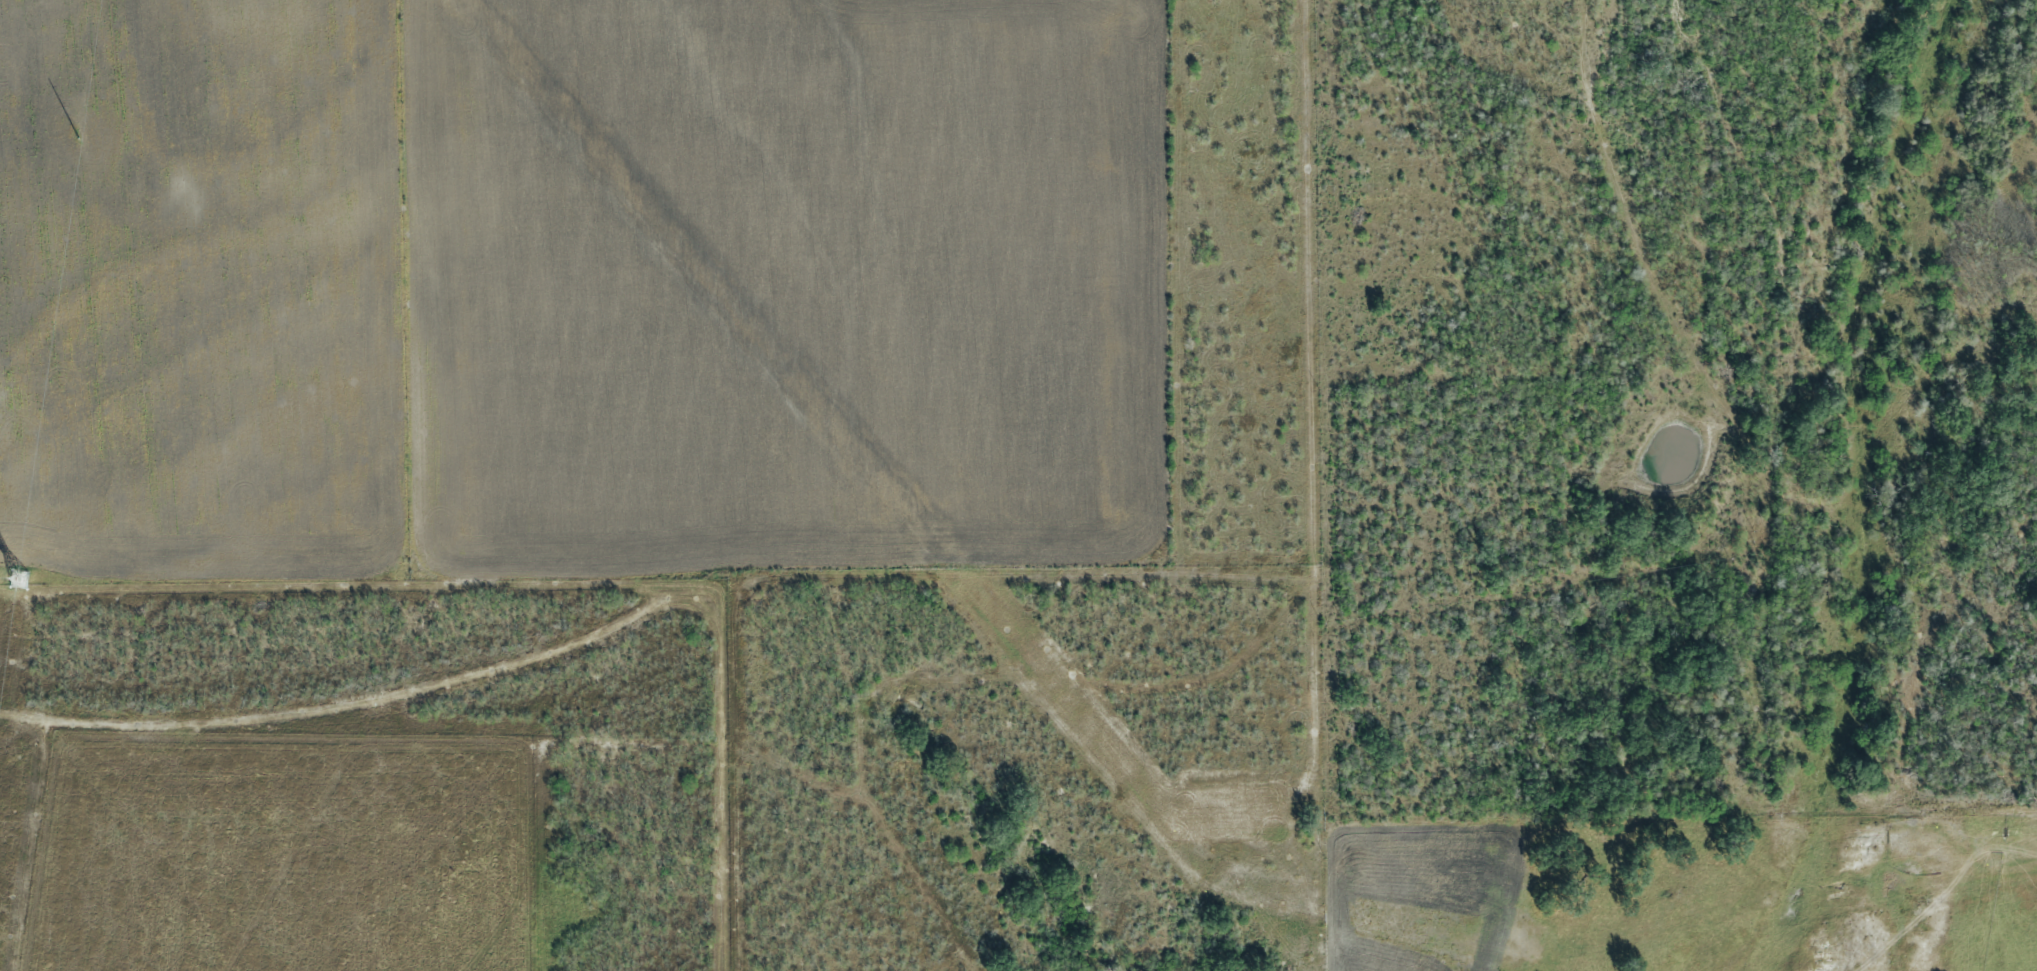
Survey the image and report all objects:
road: (1661, 288)
power tower: (21, 579)

